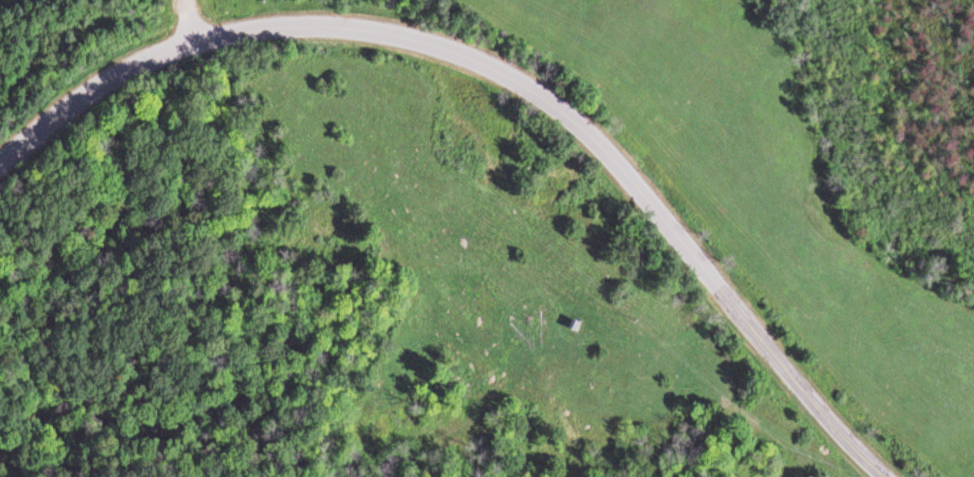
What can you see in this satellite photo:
road: (186, 23)
road: (505, 76)

